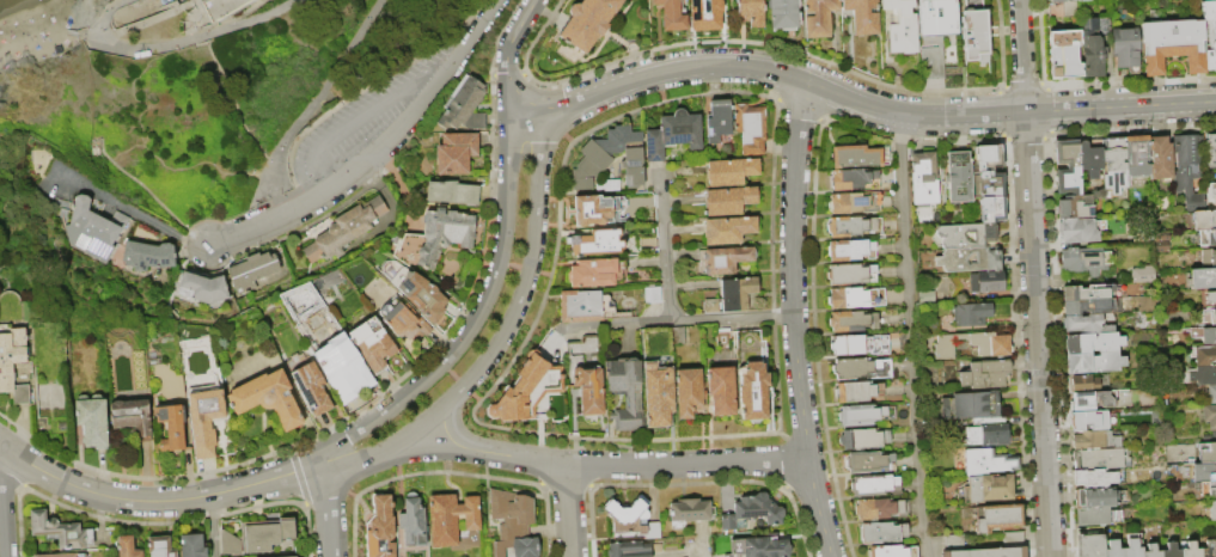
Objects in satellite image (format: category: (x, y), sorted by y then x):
building: (1068, 7)
building: (748, 12)
building: (193, 14)
building: (671, 14)
building: (782, 14)
road: (485, 16)
building: (703, 16)
building: (860, 16)
building: (817, 17)
building: (586, 22)
building: (899, 26)
building: (973, 31)
building: (934, 33)
building: (1210, 33)
road: (176, 42)
building: (1172, 45)
building: (1092, 49)
building: (1125, 49)
building: (1063, 54)
road: (506, 56)
park: (216, 90)
road: (352, 96)
road: (308, 104)
road: (863, 104)
building: (463, 106)
road: (372, 110)
building: (717, 121)
parking lot: (360, 122)
building: (750, 127)
building: (673, 134)
road: (391, 140)
building: (1211, 151)
building: (1067, 152)
building: (456, 153)
building: (1136, 154)
building: (858, 155)
building: (609, 157)
building: (988, 157)
building: (1160, 158)
building: (1089, 159)
building: (1114, 165)
building: (1188, 170)
building: (731, 171)
building: (959, 176)
building: (923, 177)
building: (854, 179)
building: (1069, 180)
road: (320, 182)
building: (990, 184)
building: (609, 188)
building: (452, 192)
building: (1214, 192)
building: (728, 200)
building: (854, 202)
building: (1075, 207)
building: (594, 209)
building: (991, 209)
road: (129, 210)
building: (1204, 220)
building: (854, 226)
building: (93, 229)
building: (728, 229)
building: (1080, 229)
building: (342, 231)
road: (243, 232)
building: (444, 235)
building: (967, 235)
building: (1206, 238)
building: (594, 240)
building: (851, 250)
building: (148, 256)
building: (726, 259)
building: (968, 259)
building: (1084, 259)
building: (1209, 259)
building: (252, 271)
building: (589, 271)
building: (850, 274)
building: (1142, 276)
road: (1034, 277)
building: (1202, 278)
building: (985, 281)
building: (203, 287)
building: (416, 292)
building: (1092, 292)
building: (652, 294)
building: (732, 295)
building: (853, 296)
building: (1210, 298)
road: (666, 305)
building: (583, 306)
building: (1084, 307)
building: (972, 313)
road: (475, 318)
building: (1209, 318)
road: (793, 319)
building: (853, 320)
building: (403, 322)
road: (611, 322)
building: (1086, 324)
road: (502, 335)
road: (910, 335)
building: (1204, 335)
building: (1092, 343)
building: (860, 344)
building: (973, 344)
building: (372, 345)
building: (12, 347)
building: (1204, 356)
building: (1094, 362)
building: (342, 368)
building: (862, 368)
building: (985, 373)
building: (1203, 375)
building: (586, 377)
building: (1083, 384)
building: (311, 388)
building: (526, 390)
building: (720, 391)
building: (857, 391)
building: (624, 392)
building: (688, 392)
building: (1211, 394)
building: (754, 396)
building: (658, 398)
building: (267, 399)
building: (1093, 400)
building: (974, 404)
building: (946, 408)
building: (864, 415)
building: (1209, 416)
building: (133, 417)
building: (92, 421)
building: (1088, 421)
building: (204, 427)
building: (173, 428)
building: (988, 430)
building: (863, 439)
building: (1095, 440)
road: (0, 441)
building: (1206, 453)
building: (1100, 459)
building: (988, 461)
building: (869, 463)
road: (611, 465)
building: (1204, 472)
building: (1100, 477)
building: (873, 484)
building: (988, 488)
building: (1208, 489)
building: (1095, 498)
road: (4, 500)
road: (157, 501)
road: (329, 509)
road: (568, 509)
building: (880, 509)
building: (1210, 510)
building: (689, 512)
building: (752, 512)
building: (998, 516)
building: (1096, 516)
building: (451, 518)
building: (631, 518)
building: (414, 521)
building: (514, 524)
road: (212, 526)
building: (286, 528)
building: (381, 528)
building: (59, 531)
building: (882, 532)
building: (258, 535)
building: (1088, 543)
building: (228, 544)
building: (128, 545)
building: (191, 545)
building: (159, 546)
building: (759, 546)
building: (1131, 546)
road: (692, 549)
building: (1208, 549)
building: (629, 550)
building: (1113, 550)
building: (1190, 550)
building: (891, 551)
building: (1151, 551)
building: (1171, 551)
building: (986, 552)
building: (60, 555)
building: (287, 556)

